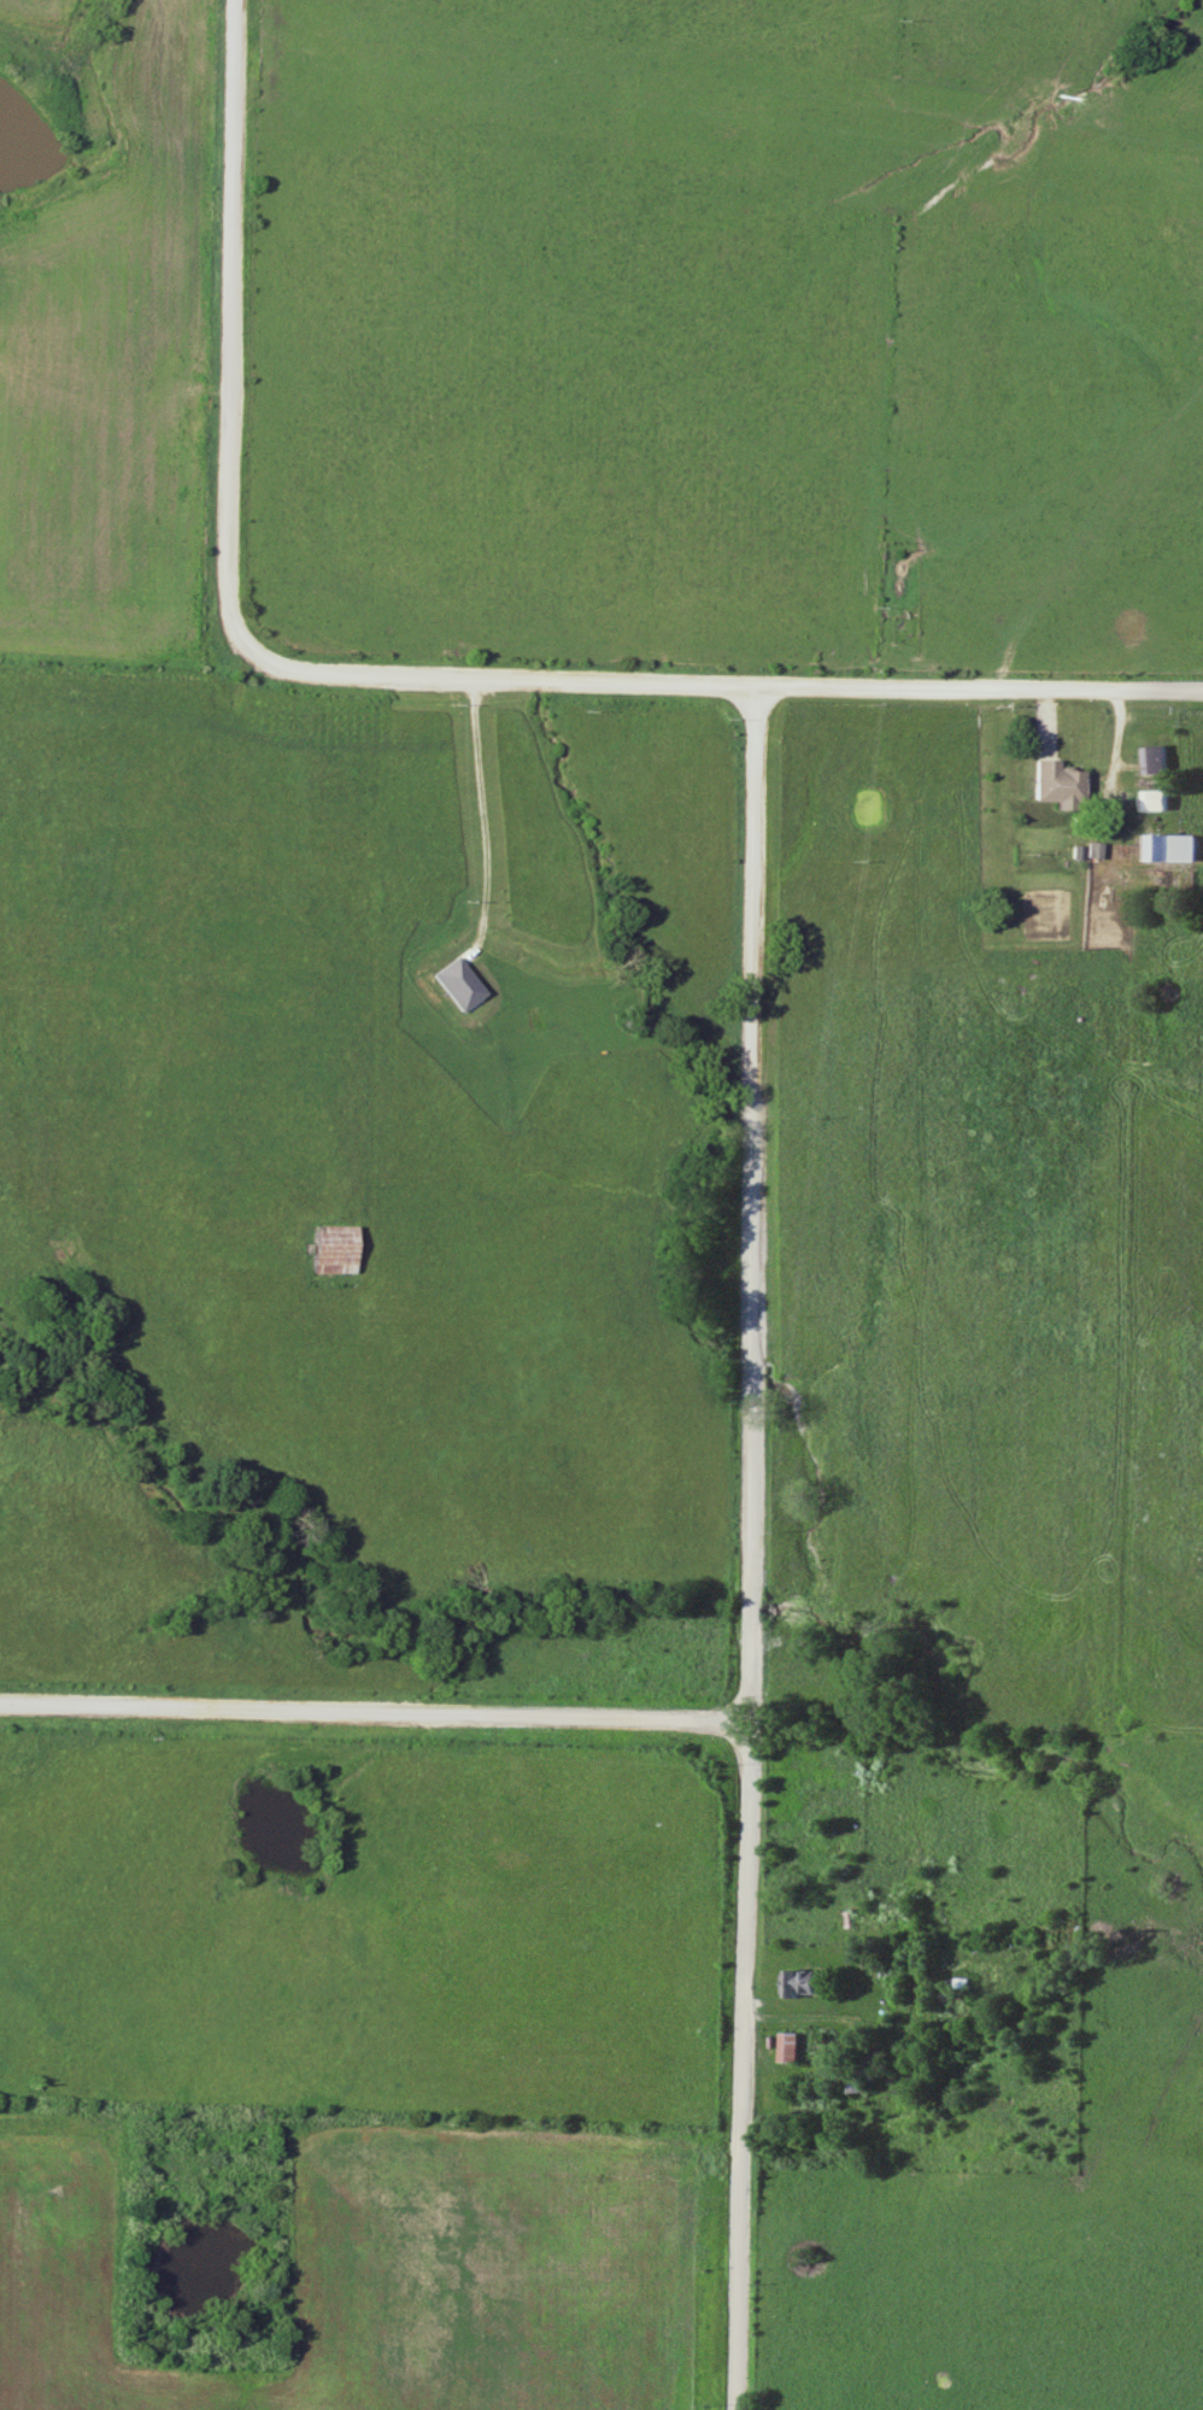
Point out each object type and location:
road: (231, 253)
road: (650, 684)
building: (1155, 761)
building: (1061, 786)
building: (1154, 801)
road: (479, 813)
building: (1168, 849)
building: (335, 1249)
road: (753, 1548)
road: (376, 1717)
building: (1061, 1939)
building: (800, 1983)
building: (790, 2047)
building: (852, 2078)

